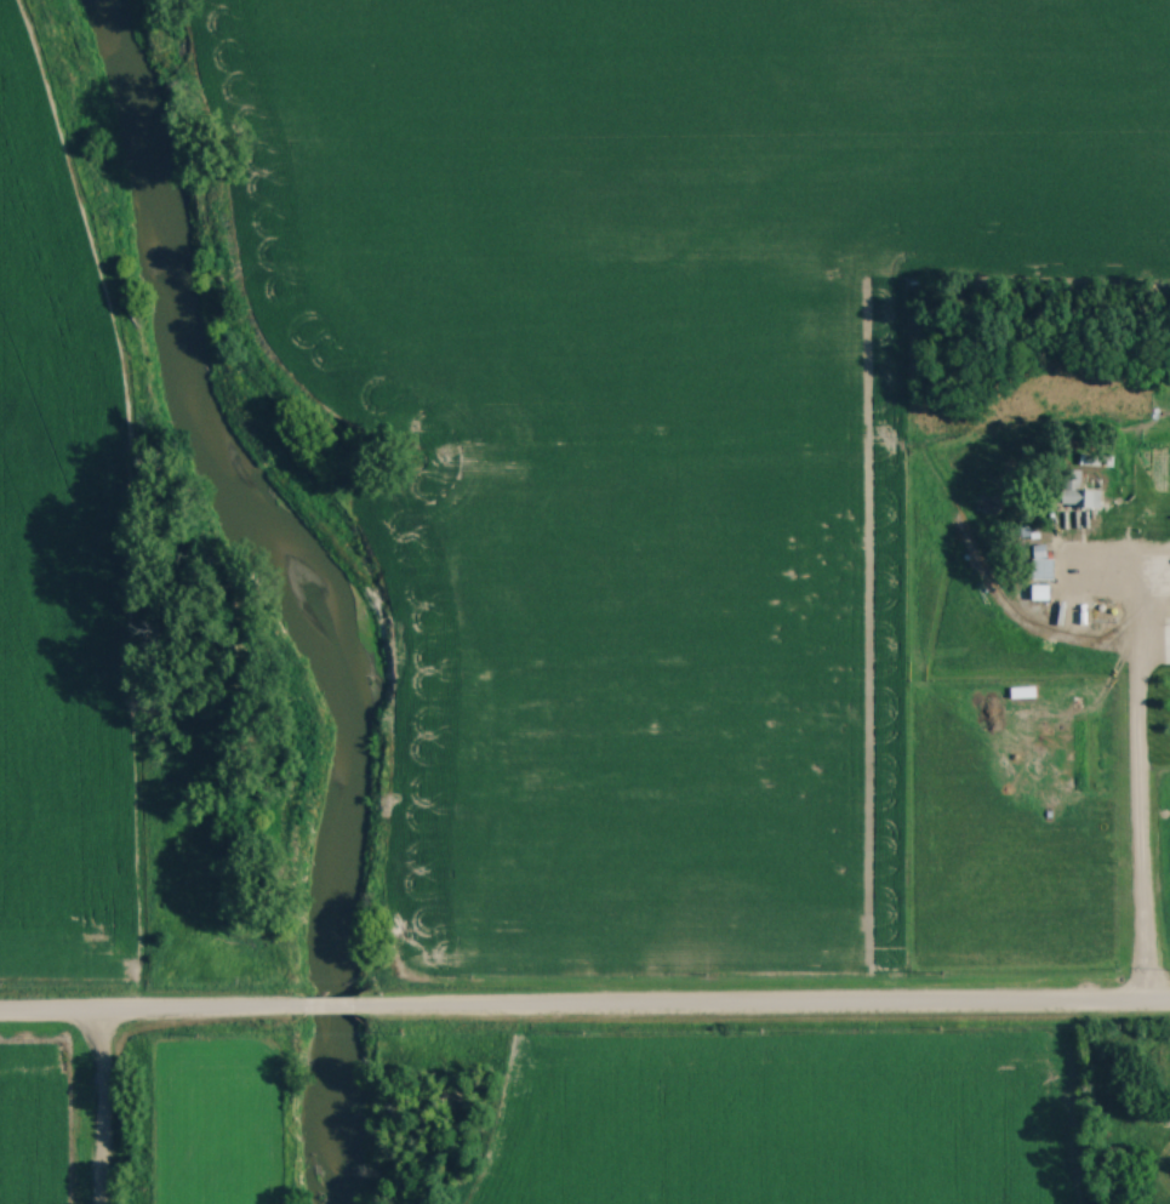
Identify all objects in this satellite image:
building: (1079, 490)
building: (1043, 560)
river: (319, 574)
road: (1135, 776)
road: (763, 1003)
road: (330, 1004)
road: (153, 1005)
building: (1164, 1114)

